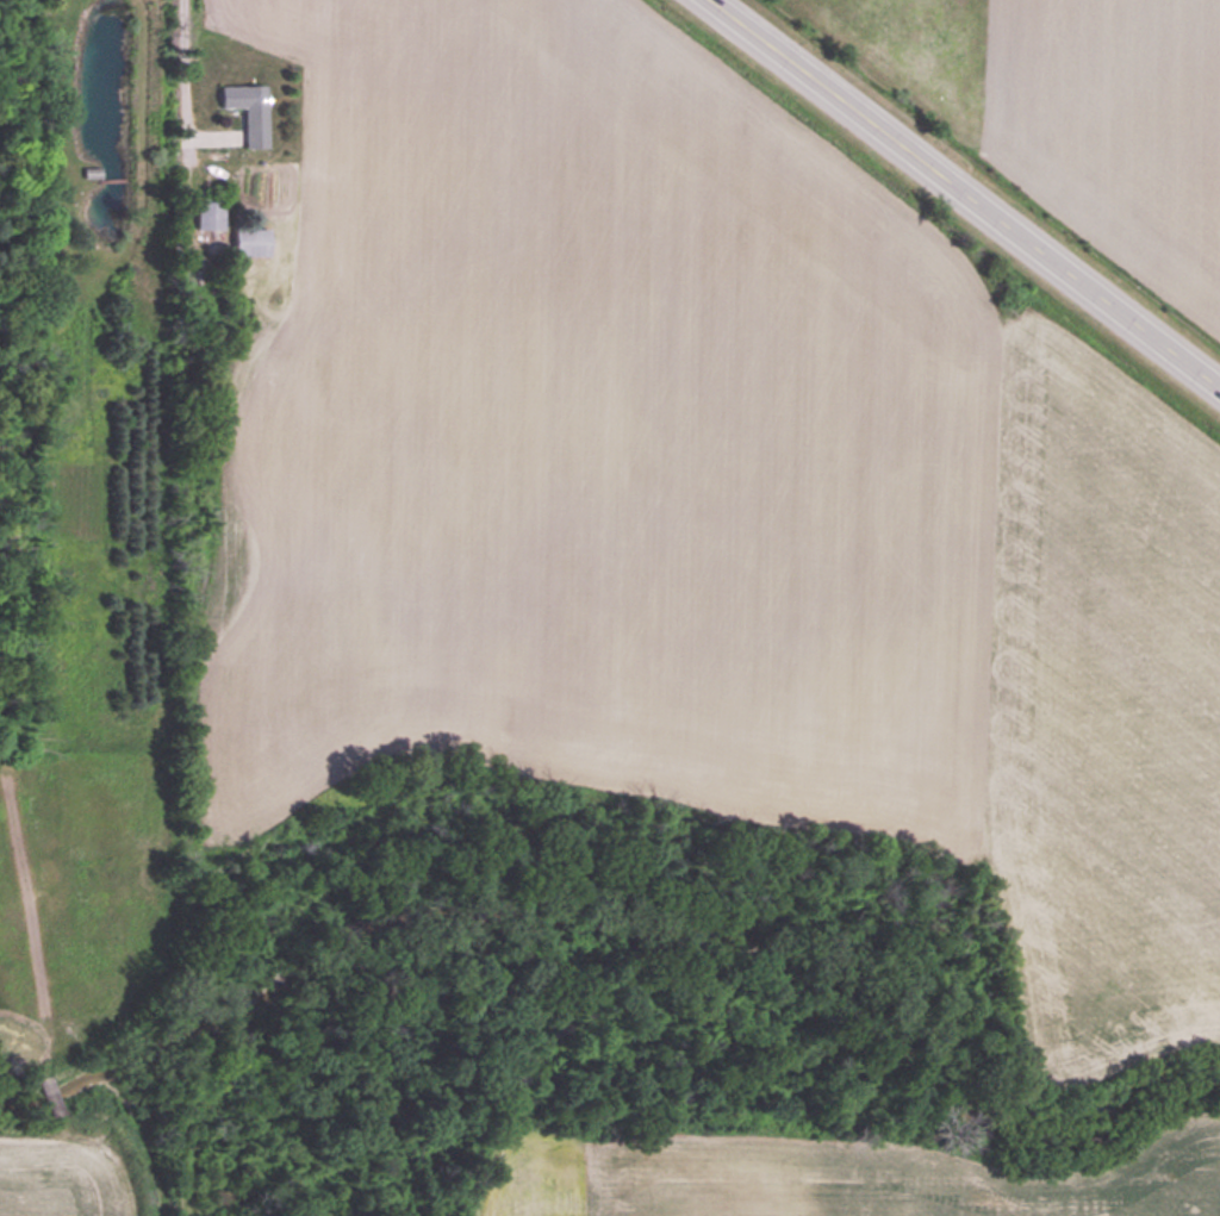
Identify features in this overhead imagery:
road: (185, 89)
building: (248, 110)
road: (964, 193)
building: (208, 214)
building: (250, 241)

